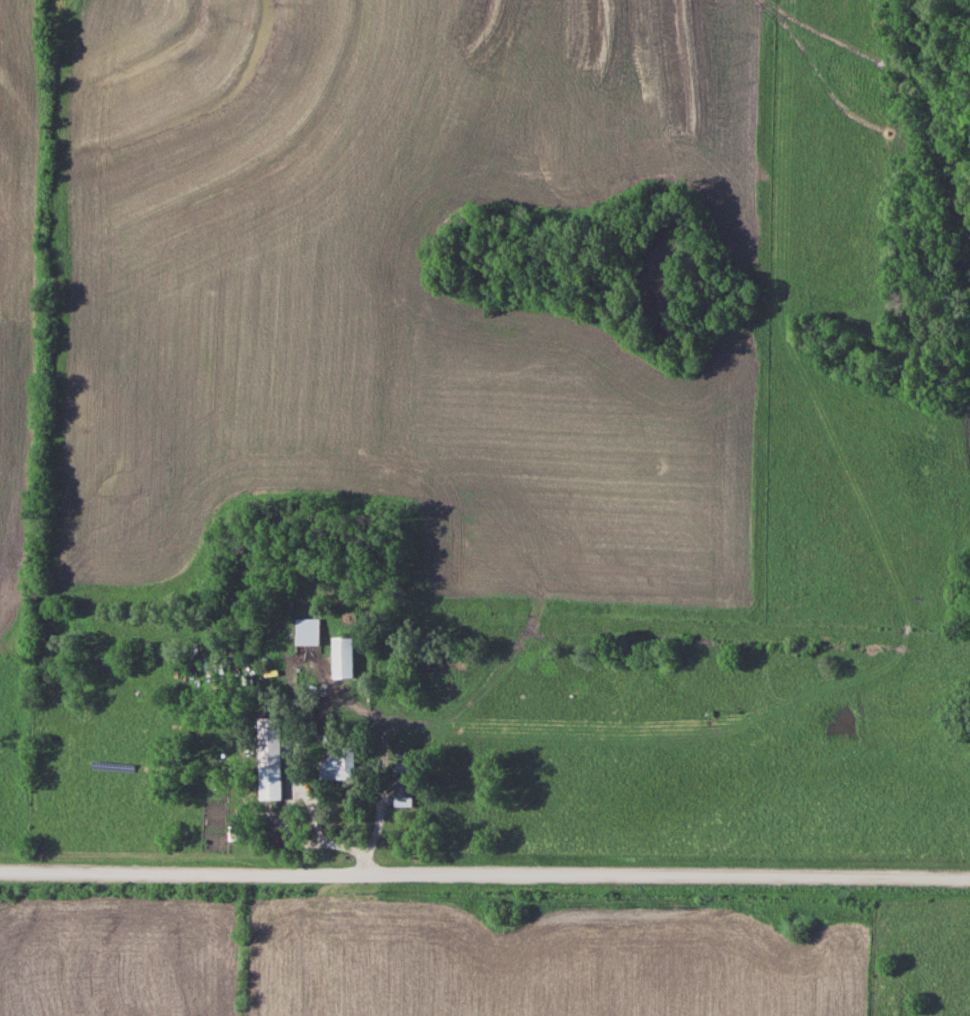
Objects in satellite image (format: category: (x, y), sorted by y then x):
building: (305, 634)
building: (340, 655)
building: (268, 756)
building: (336, 761)
building: (401, 781)
road: (485, 872)
crop: (546, 961)

